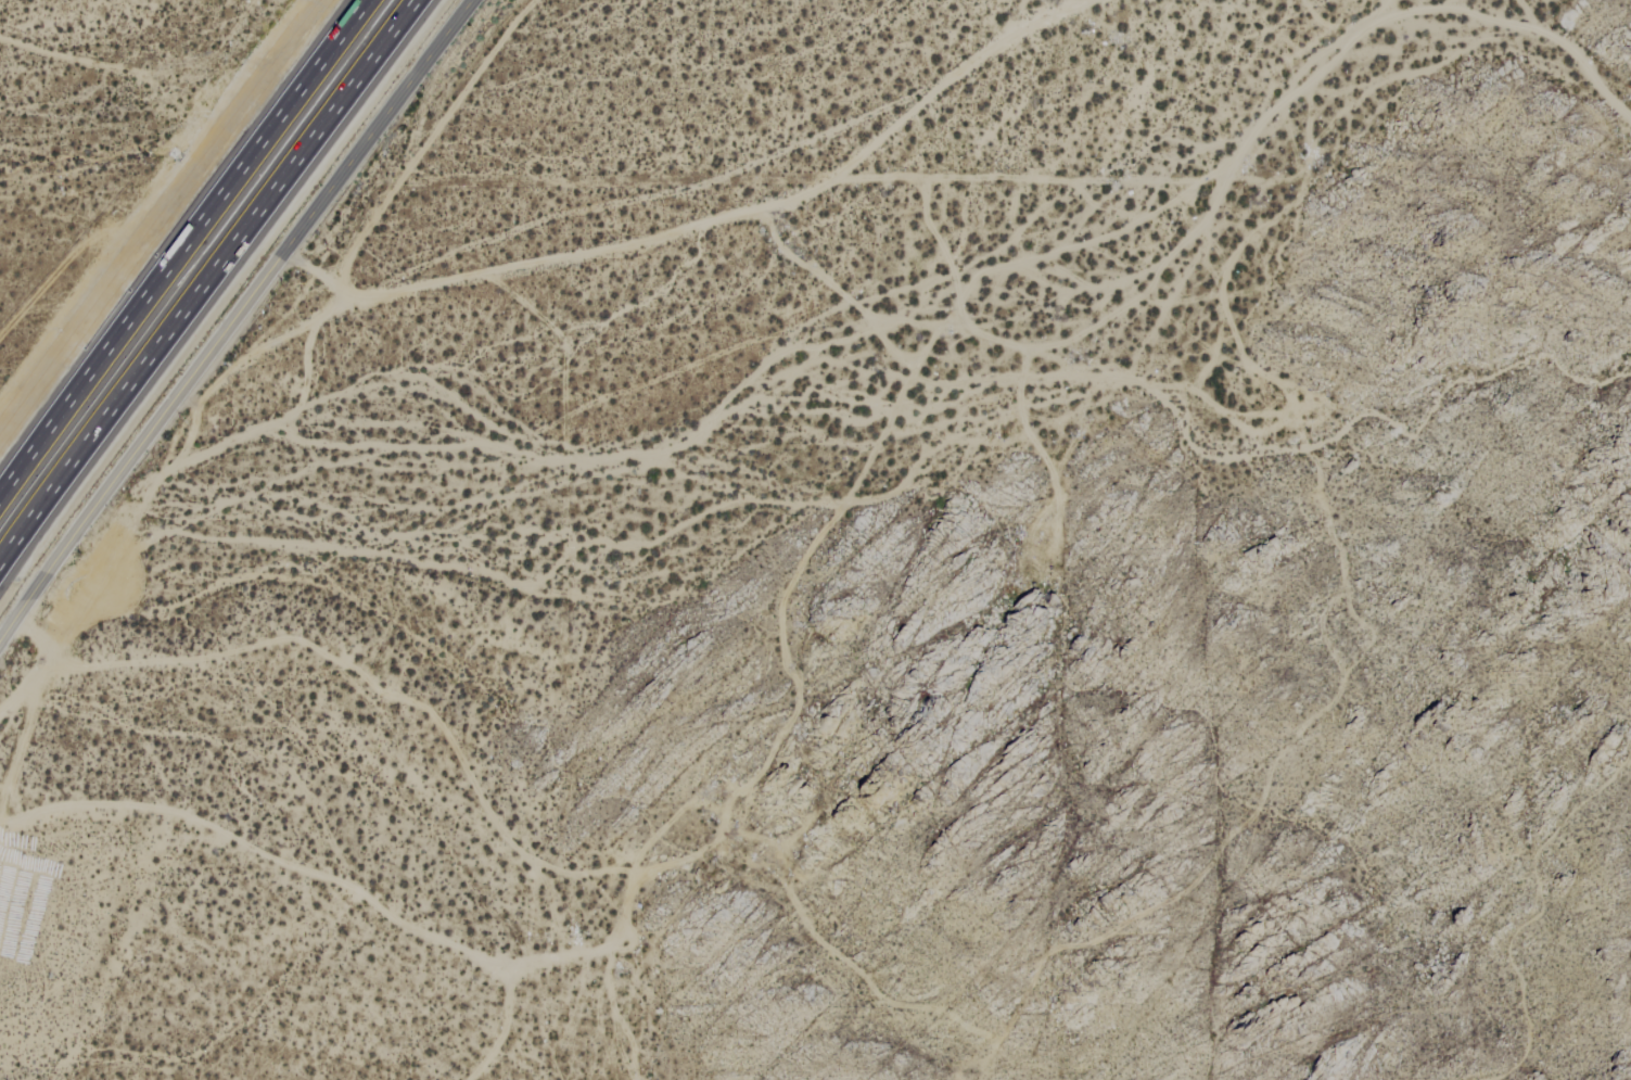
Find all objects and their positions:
road: (183, 252)
railway: (195, 264)
road: (209, 289)
road: (234, 319)

